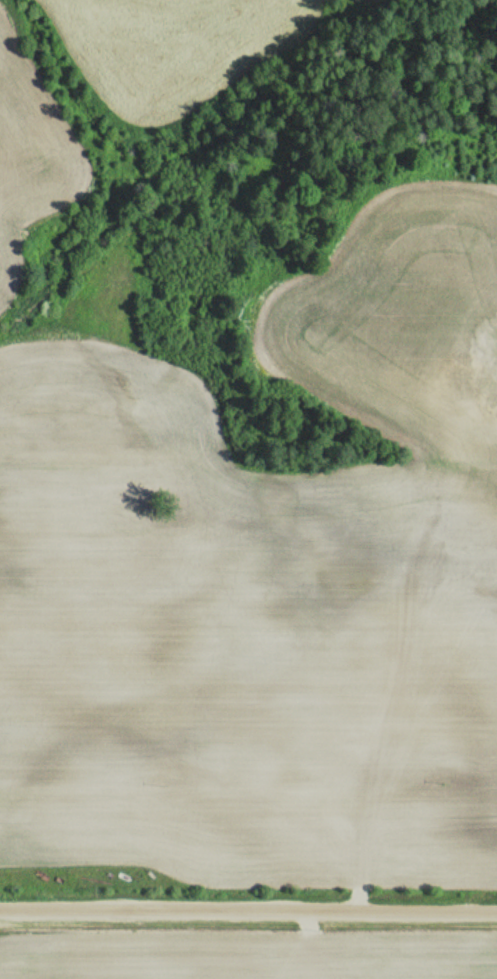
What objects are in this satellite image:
road: (248, 909)

